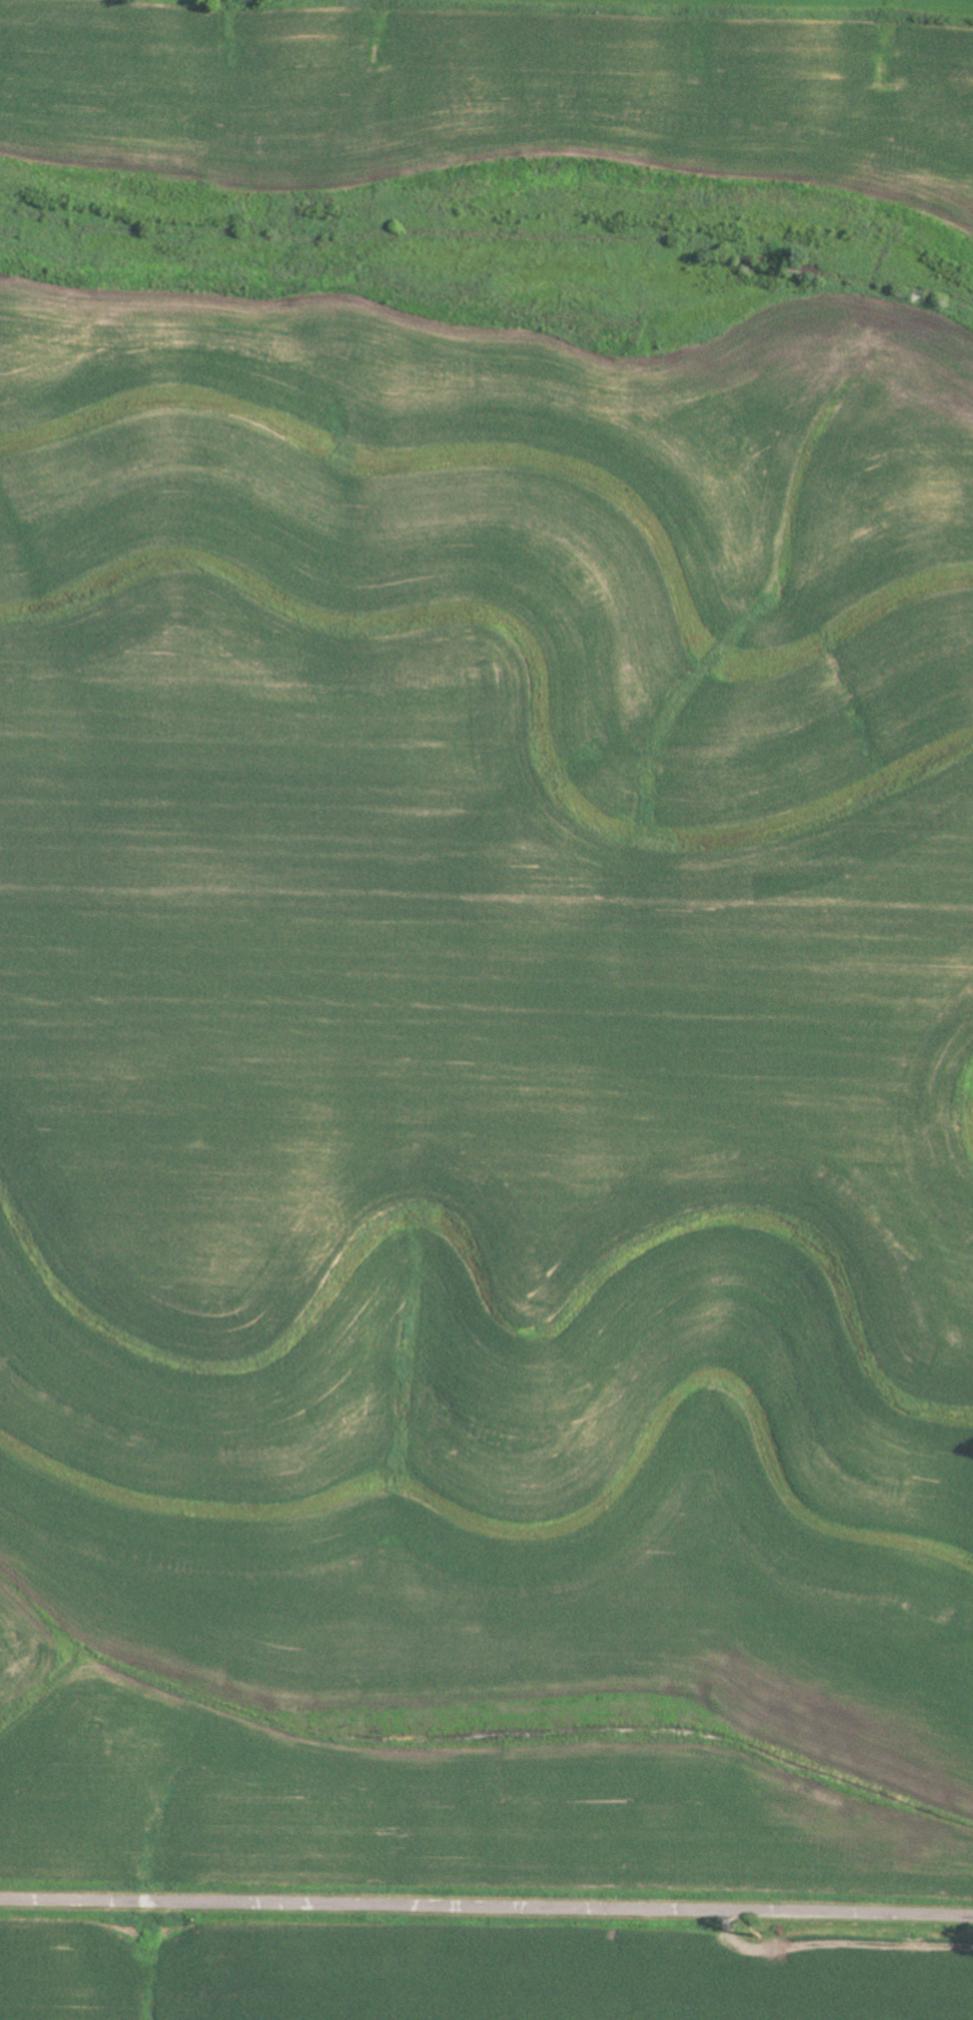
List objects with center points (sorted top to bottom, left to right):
road: (486, 1895)

